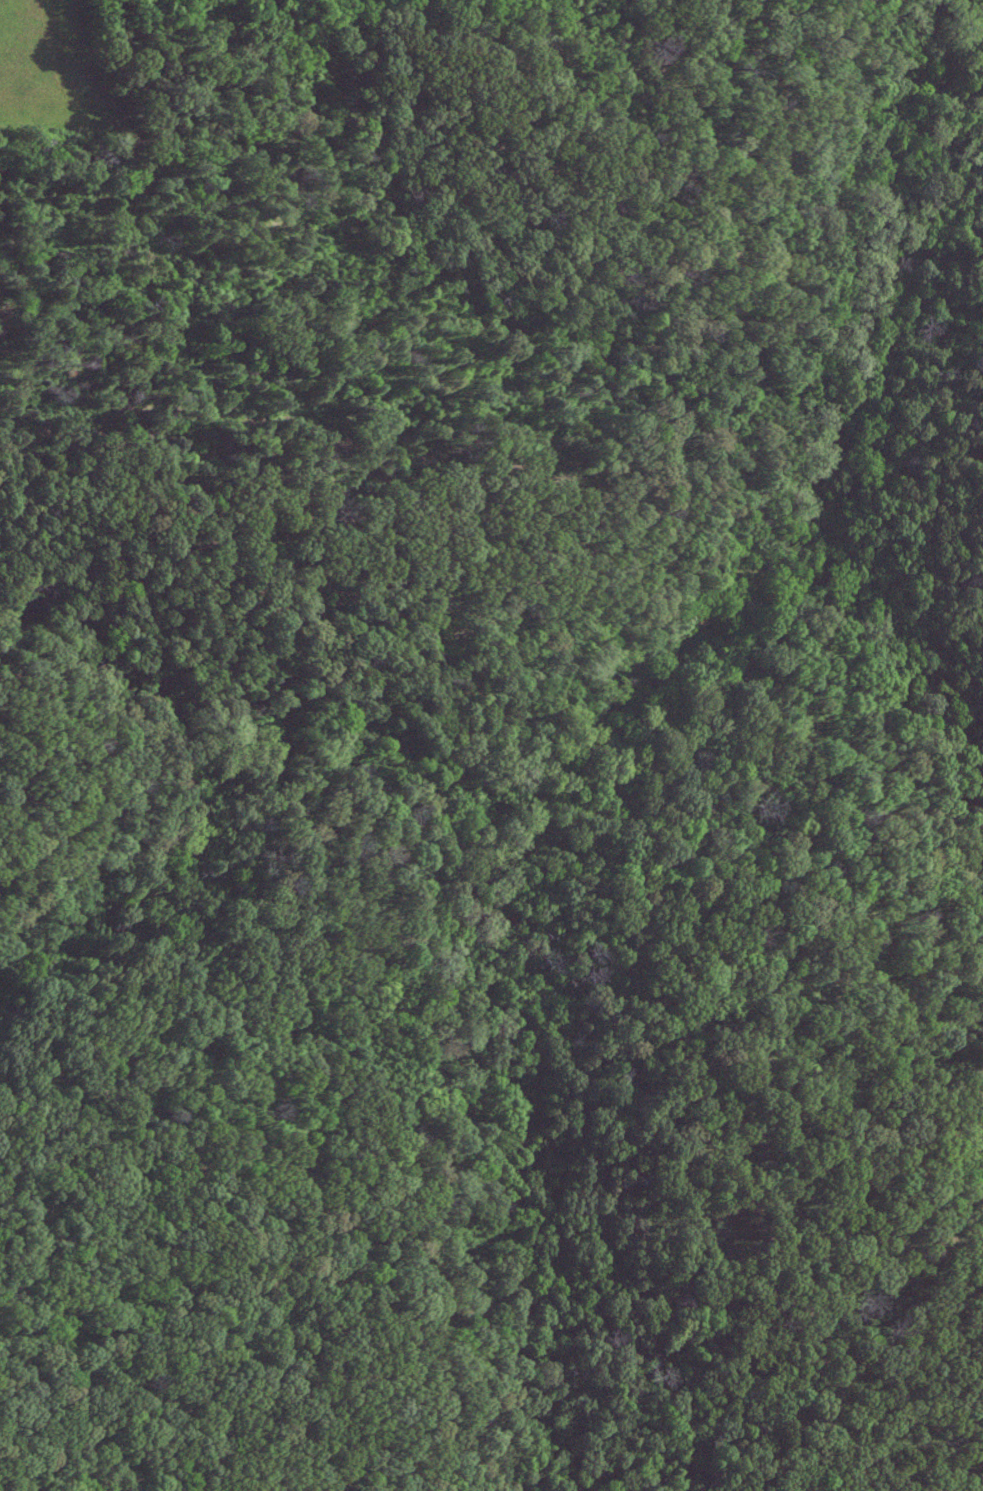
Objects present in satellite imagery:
road: (676, 741)

